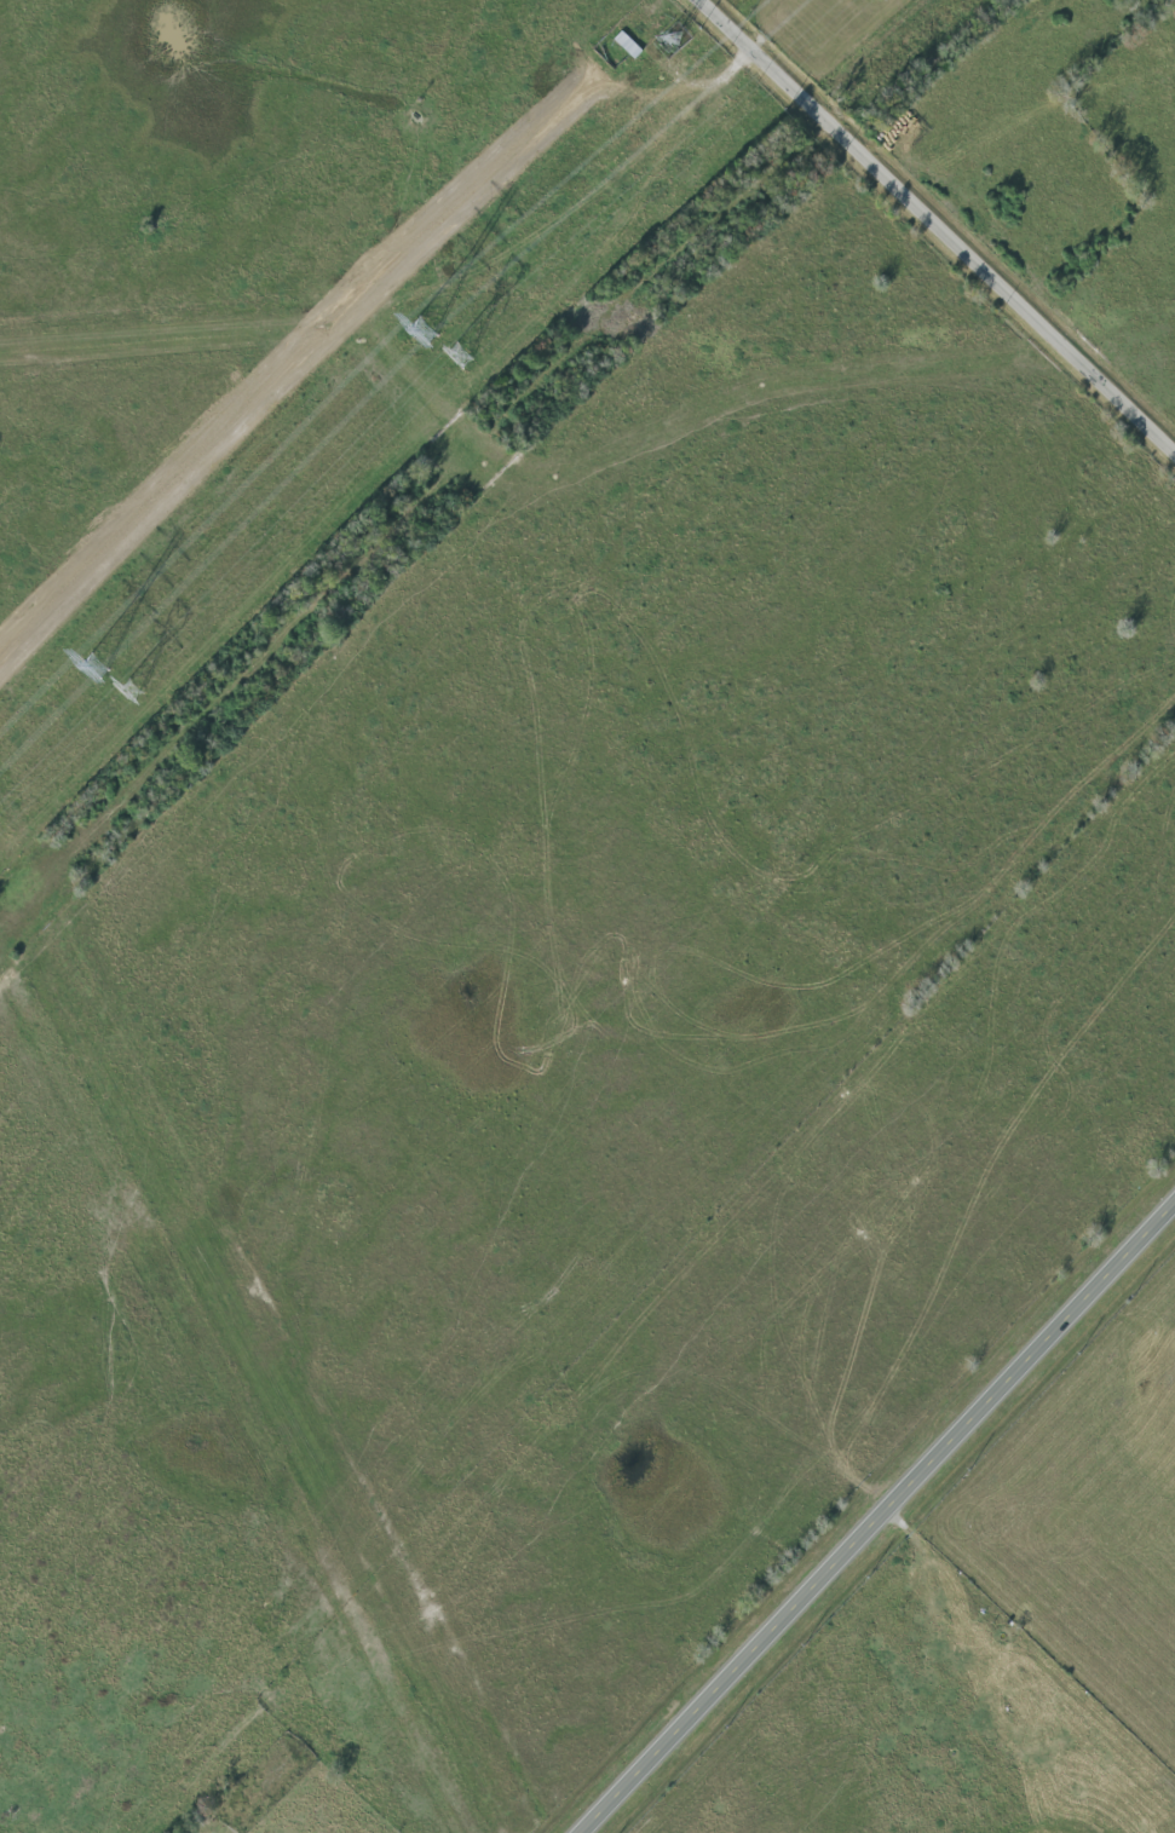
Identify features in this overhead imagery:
road: (941, 221)
power tower: (424, 329)
power tower: (457, 357)
railway: (491, 472)
power tower: (96, 668)
power tower: (128, 691)
road: (881, 1520)

